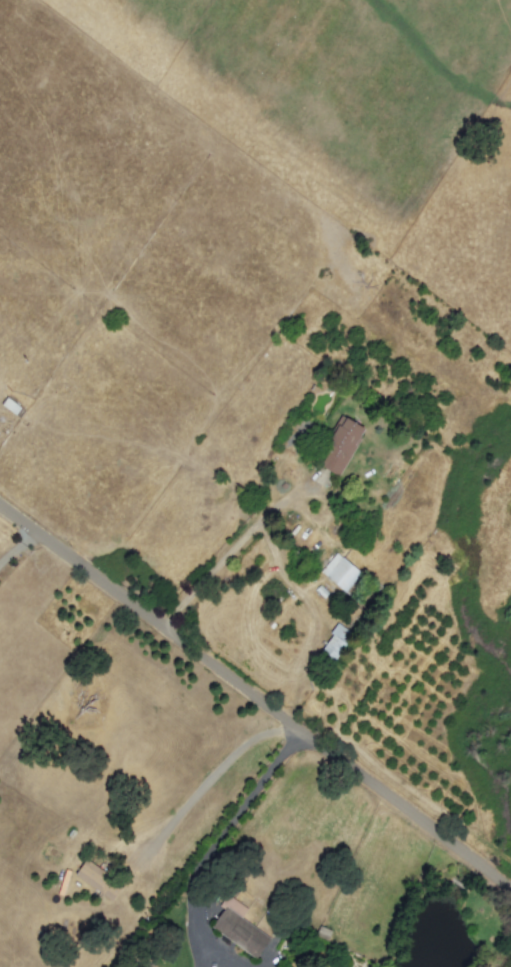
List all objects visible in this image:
building: (341, 445)
road: (16, 545)
road: (230, 550)
building: (340, 572)
road: (313, 614)
building: (335, 643)
road: (255, 697)
road: (210, 777)
road: (212, 848)
building: (98, 880)
building: (238, 928)

